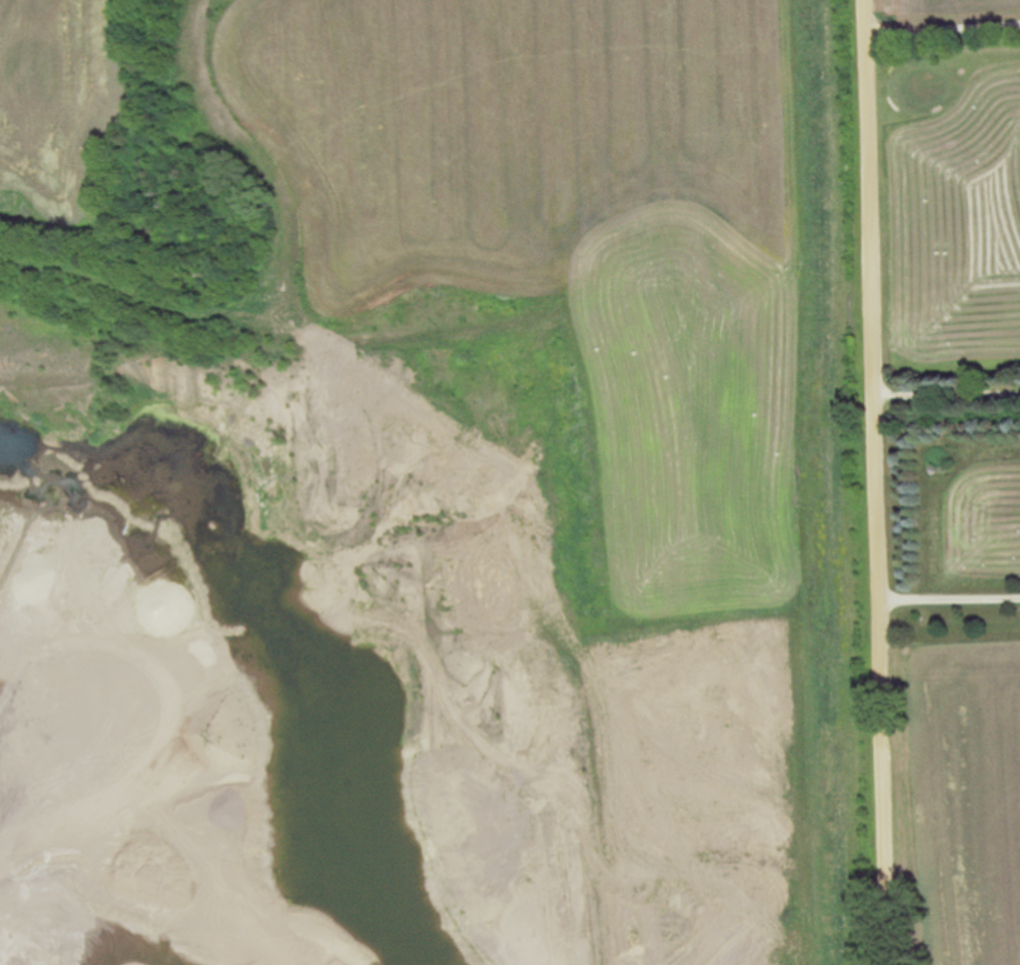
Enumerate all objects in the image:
road: (944, 20)
road: (948, 395)
road: (878, 482)
road: (950, 595)

